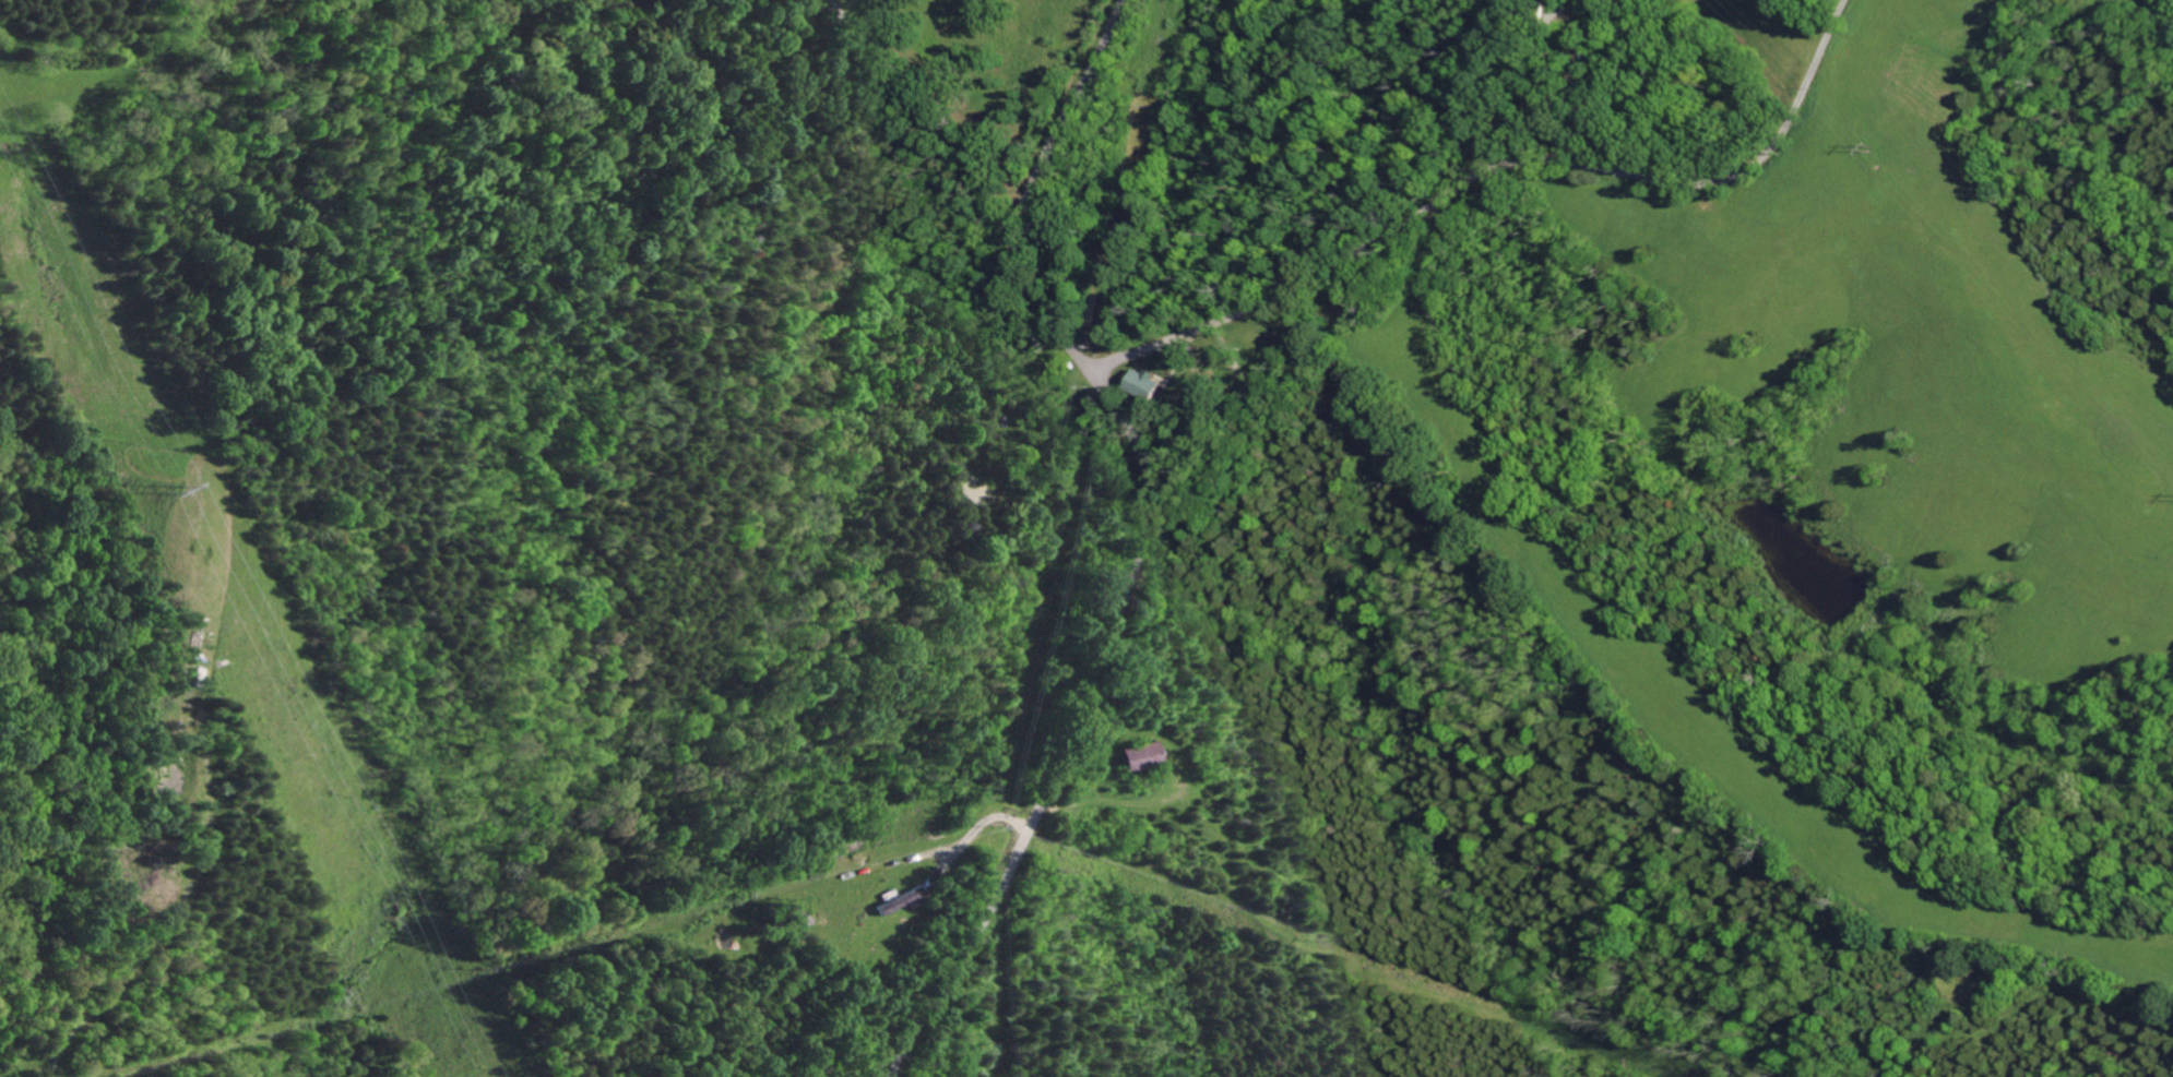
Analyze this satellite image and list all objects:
road: (949, 89)
road: (1496, 168)
building: (1157, 383)
building: (1143, 385)
road: (1139, 539)
building: (1128, 759)
building: (910, 899)
building: (890, 904)
building: (798, 920)

